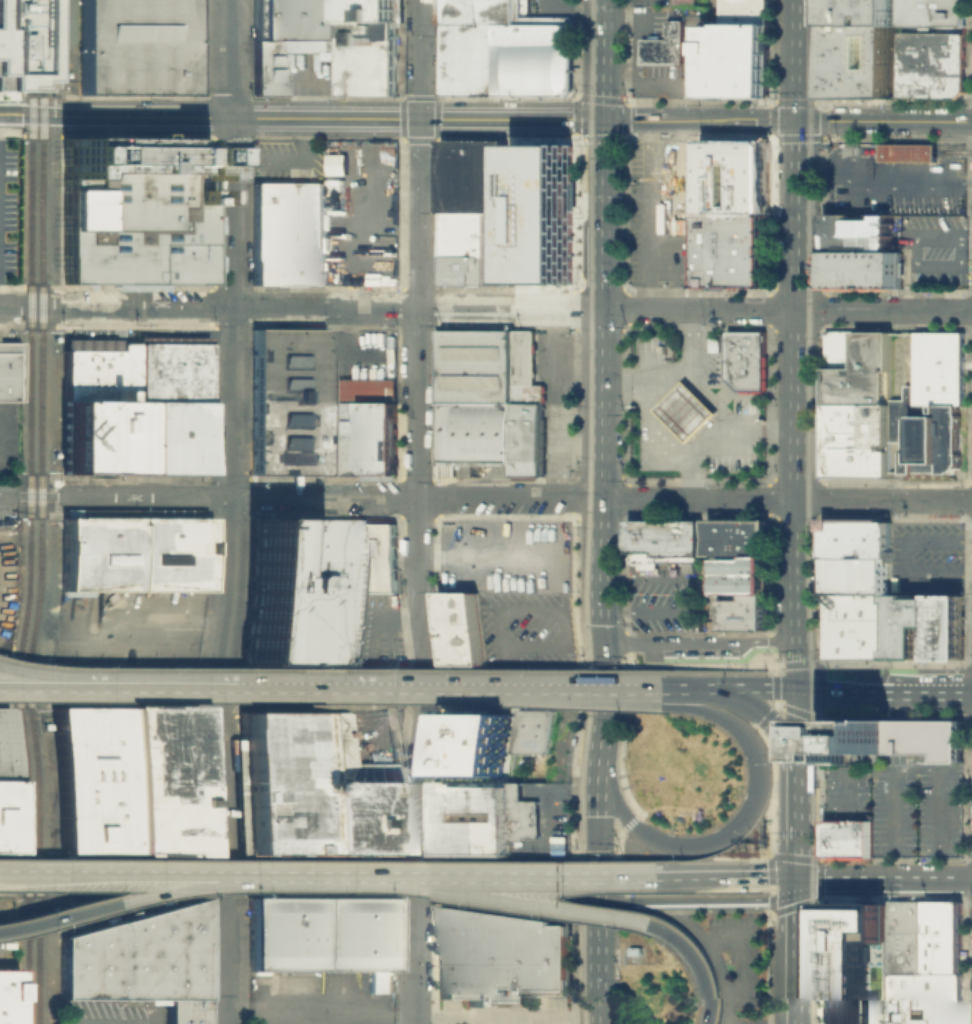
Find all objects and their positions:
parking lot: (650, 3)
parking lot: (546, 8)
road: (569, 9)
building: (370, 10)
building: (859, 11)
building: (931, 12)
road: (628, 23)
building: (292, 37)
building: (9, 44)
building: (478, 44)
building: (664, 46)
building: (135, 47)
building: (737, 50)
parking lot: (693, 51)
road: (633, 52)
building: (370, 57)
road: (228, 58)
building: (537, 60)
building: (859, 60)
building: (930, 64)
road: (657, 82)
railway: (817, 83)
road: (646, 101)
road: (301, 117)
traffic signals: (603, 120)
road: (651, 120)
road: (749, 120)
traffic signals: (799, 120)
road: (885, 120)
road: (847, 150)
road: (909, 150)
road: (954, 150)
building: (909, 152)
road: (420, 154)
road: (603, 157)
parking lot: (665, 158)
parking lot: (287, 160)
road: (287, 162)
building: (641, 163)
building: (473, 176)
building: (735, 176)
road: (815, 176)
road: (902, 181)
railway: (579, 190)
parking lot: (856, 203)
parking lot: (10, 209)
building: (135, 210)
road: (229, 212)
building: (541, 212)
road: (646, 214)
road: (672, 214)
building: (661, 218)
building: (860, 231)
building: (287, 232)
road: (965, 238)
road: (698, 245)
building: (476, 248)
road: (601, 248)
building: (734, 249)
parking lot: (933, 249)
road: (913, 263)
building: (862, 269)
road: (449, 308)
road: (935, 310)
parking lot: (644, 342)
road: (797, 344)
road: (898, 354)
building: (747, 360)
parking lot: (552, 363)
building: (473, 365)
building: (134, 368)
building: (524, 368)
building: (938, 368)
parking lot: (711, 369)
building: (9, 370)
road: (672, 375)
road: (710, 400)
road: (416, 402)
building: (857, 403)
building: (685, 410)
gas station: (685, 410)
building: (317, 411)
road: (685, 411)
road: (897, 419)
road: (768, 432)
building: (473, 433)
building: (925, 433)
building: (98, 436)
building: (171, 436)
parking lot: (739, 437)
building: (527, 438)
parking lot: (556, 438)
road: (711, 438)
parking lot: (9, 440)
road: (673, 441)
road: (897, 470)
road: (300, 497)
road: (651, 498)
road: (836, 499)
railway: (29, 511)
railway: (40, 511)
railway: (589, 512)
railway: (807, 512)
building: (856, 527)
building: (501, 533)
building: (737, 536)
building: (664, 542)
building: (857, 543)
road: (416, 544)
building: (857, 553)
building: (133, 555)
parking lot: (927, 555)
road: (903, 559)
building: (742, 573)
building: (856, 575)
building: (312, 584)
road: (599, 595)
road: (695, 595)
building: (755, 595)
building: (840, 602)
parking lot: (656, 605)
road: (492, 613)
building: (744, 614)
building: (928, 614)
building: (841, 620)
building: (873, 625)
road: (689, 627)
parking lot: (135, 628)
parking lot: (369, 628)
building: (456, 629)
parking lot: (521, 630)
traffic signals: (599, 641)
road: (698, 642)
building: (906, 642)
building: (939, 642)
building: (954, 642)
building: (841, 643)
road: (226, 665)
road: (330, 670)
road: (493, 670)
road: (718, 673)
road: (27, 678)
road: (776, 682)
road: (27, 685)
road: (357, 686)
road: (754, 688)
traffic signals: (798, 688)
road: (844, 688)
road: (931, 688)
road: (686, 689)
road: (299, 690)
road: (740, 701)
road: (798, 728)
building: (529, 732)
parking lot: (377, 735)
road: (417, 739)
building: (893, 740)
road: (783, 742)
building: (474, 746)
railway: (569, 761)
road: (885, 770)
building: (8, 778)
building: (128, 779)
road: (607, 779)
building: (312, 785)
road: (597, 791)
road: (755, 792)
road: (845, 792)
parking lot: (901, 804)
road: (797, 807)
road: (936, 809)
road: (891, 810)
building: (481, 819)
railway: (822, 819)
parking lot: (547, 821)
road: (625, 828)
building: (840, 837)
building: (864, 837)
road: (619, 844)
road: (608, 855)
road: (797, 862)
road: (122, 871)
road: (333, 876)
road: (541, 877)
road: (728, 877)
traffic signals: (797, 878)
road: (834, 878)
road: (921, 878)
road: (298, 887)
traffic signals: (597, 892)
road: (121, 899)
road: (701, 903)
road: (535, 905)
road: (685, 920)
building: (323, 931)
building: (898, 937)
building: (916, 938)
building: (944, 938)
road: (796, 951)
building: (456, 953)
building: (495, 954)
road: (415, 955)
building: (542, 955)
road: (597, 958)
road: (715, 958)
parking lot: (731, 958)
building: (141, 961)
road: (697, 962)
building: (855, 962)
road: (738, 987)
building: (7, 995)
parking lot: (323, 996)
building: (901, 999)
building: (937, 999)
parking lot: (547, 1010)
road: (411, 1020)

